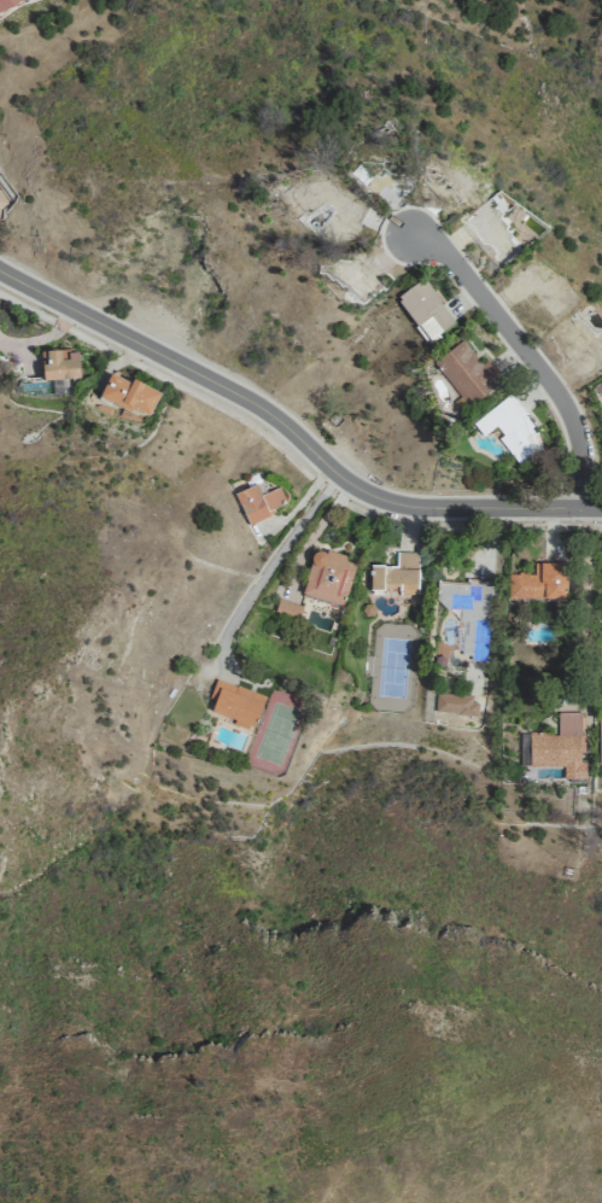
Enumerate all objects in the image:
building: (8, 2)
building: (384, 168)
building: (446, 179)
building: (318, 198)
building: (1, 202)
building: (338, 227)
building: (492, 230)
building: (350, 276)
building: (539, 291)
building: (581, 343)
road: (527, 354)
building: (60, 364)
building: (467, 373)
building: (129, 393)
building: (510, 430)
road: (292, 432)
building: (258, 502)
road: (268, 565)
building: (397, 574)
building: (328, 577)
building: (539, 582)
building: (287, 609)
building: (468, 613)
road: (583, 618)
building: (235, 703)
building: (600, 740)
building: (559, 746)

